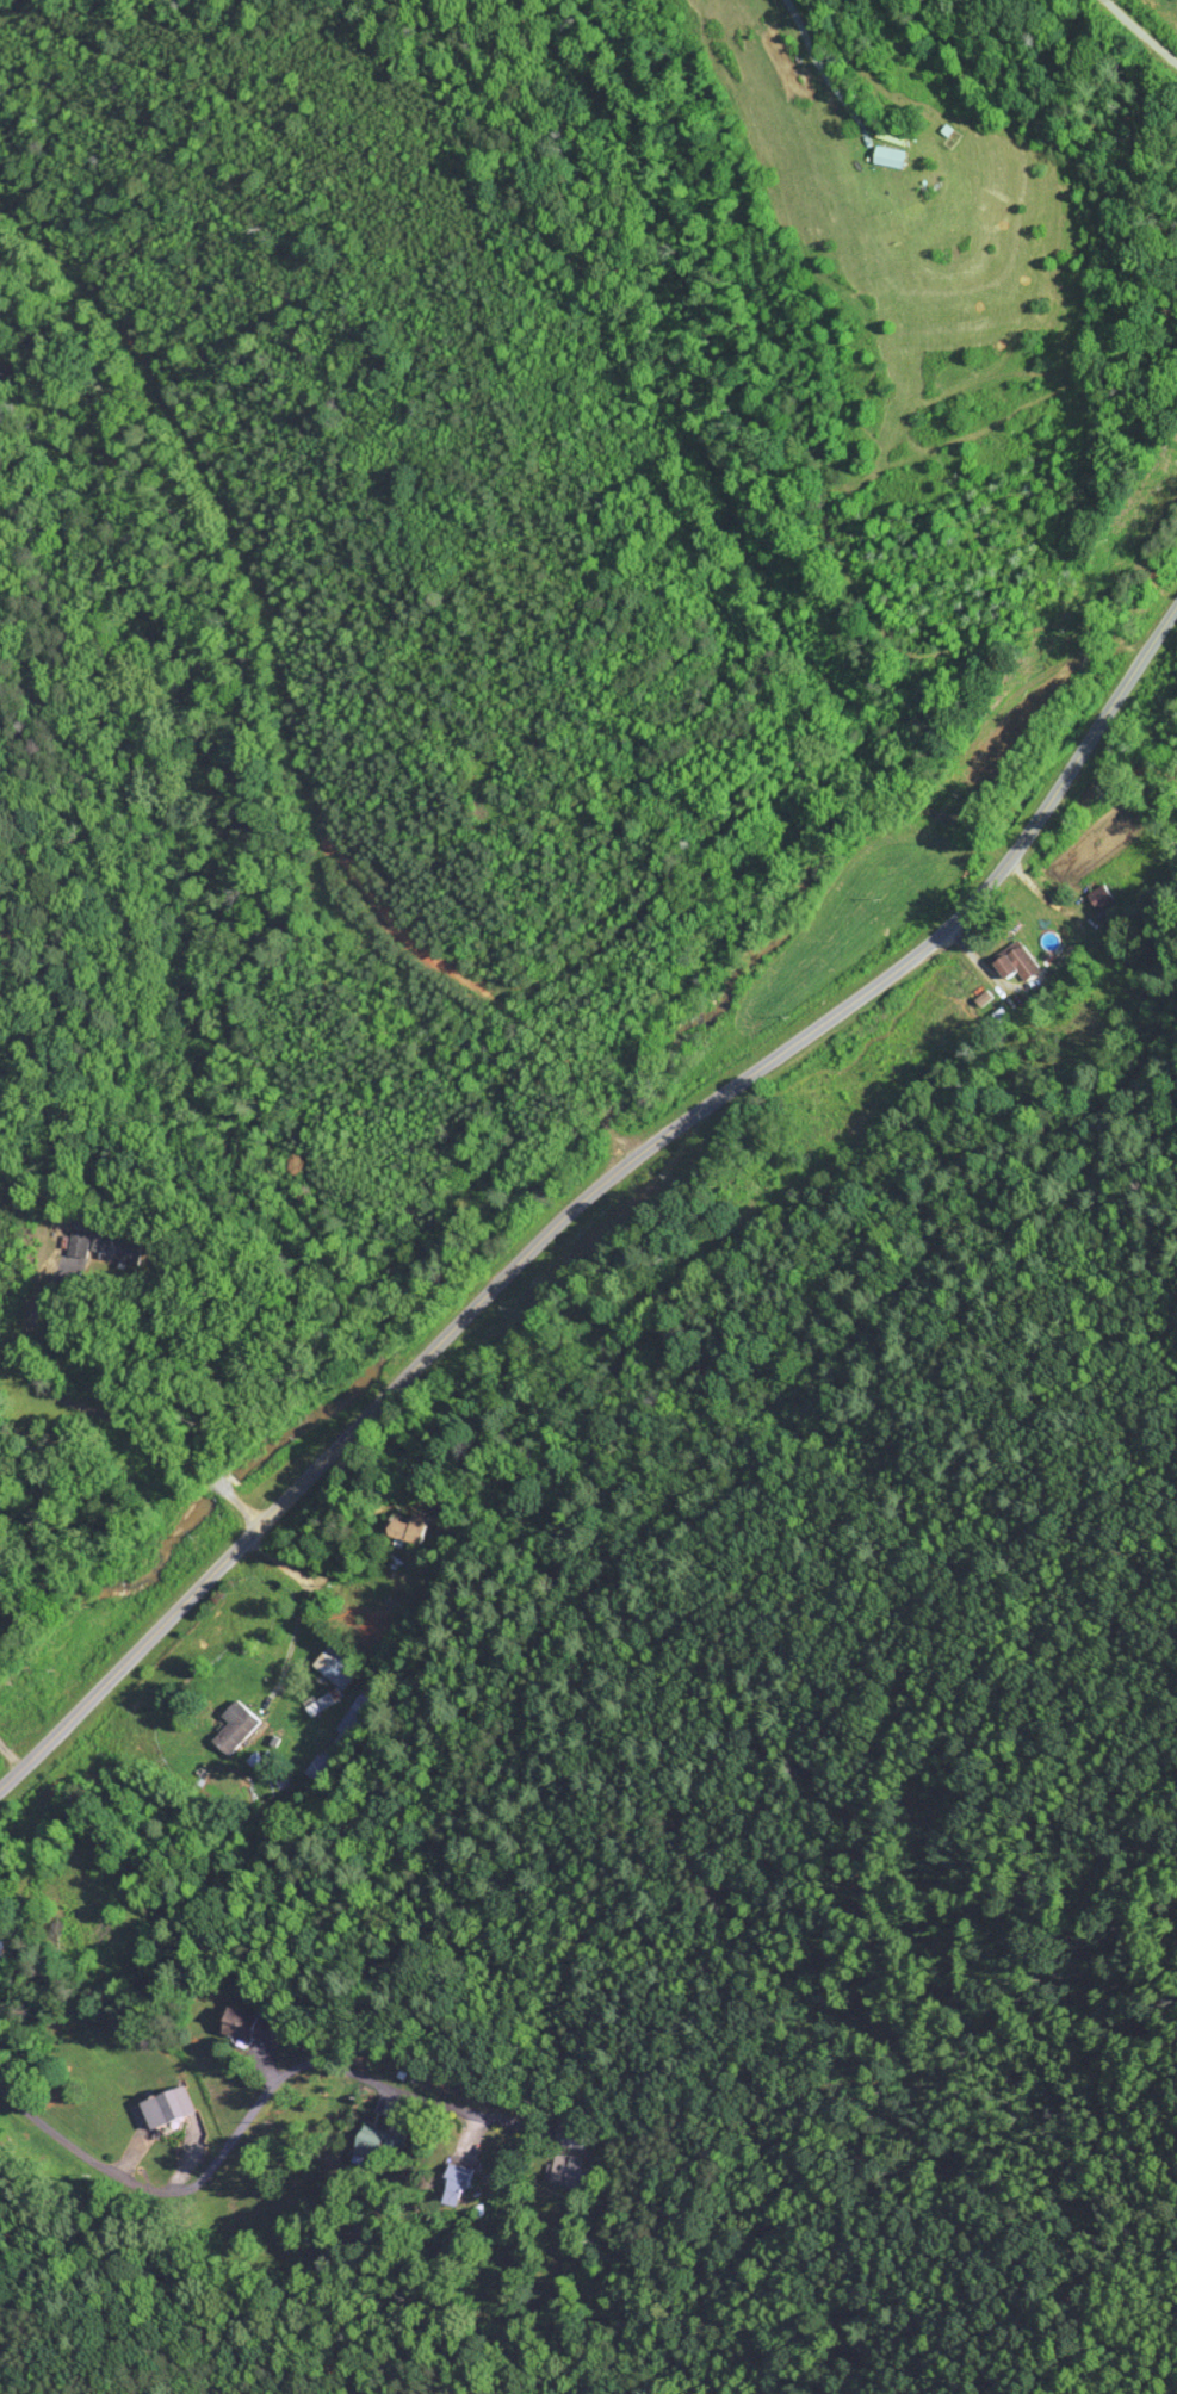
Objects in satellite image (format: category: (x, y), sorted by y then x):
road: (813, 12)
road: (1138, 29)
building: (1009, 962)
river: (733, 978)
road: (591, 1196)
building: (80, 1246)
road: (70, 1400)
road: (223, 1488)
road: (249, 1513)
river: (211, 1514)
building: (399, 1528)
building: (329, 1676)
building: (228, 1726)
building: (239, 2026)
building: (162, 2104)
road: (246, 2120)
building: (370, 2142)
building: (559, 2166)
building: (448, 2183)

